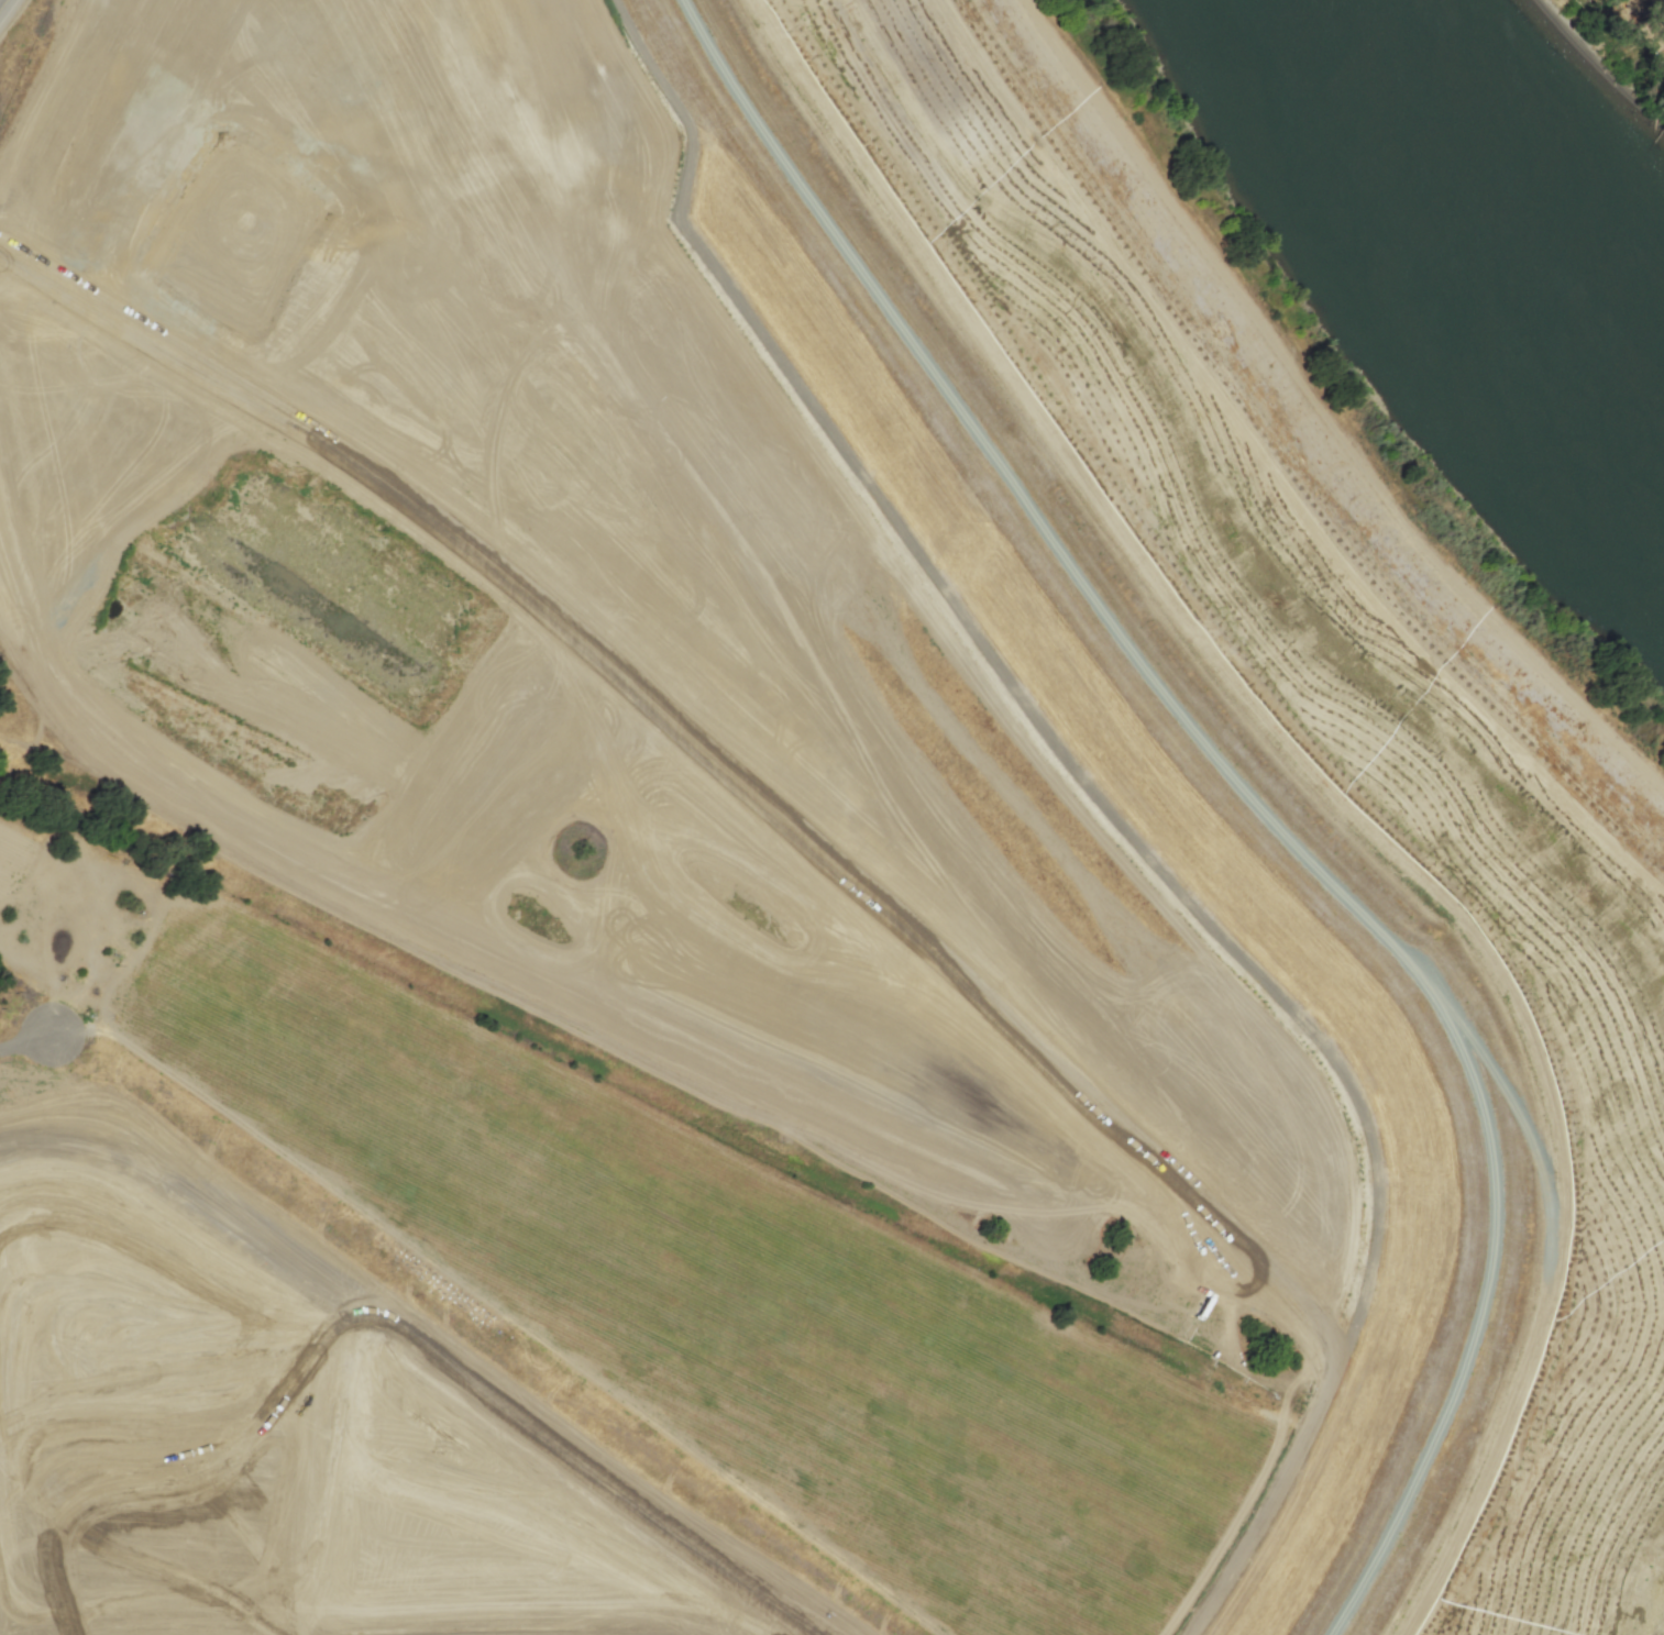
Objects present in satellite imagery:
road: (2, 2)
river: (1468, 211)
road: (1318, 420)
road: (25, 1039)

